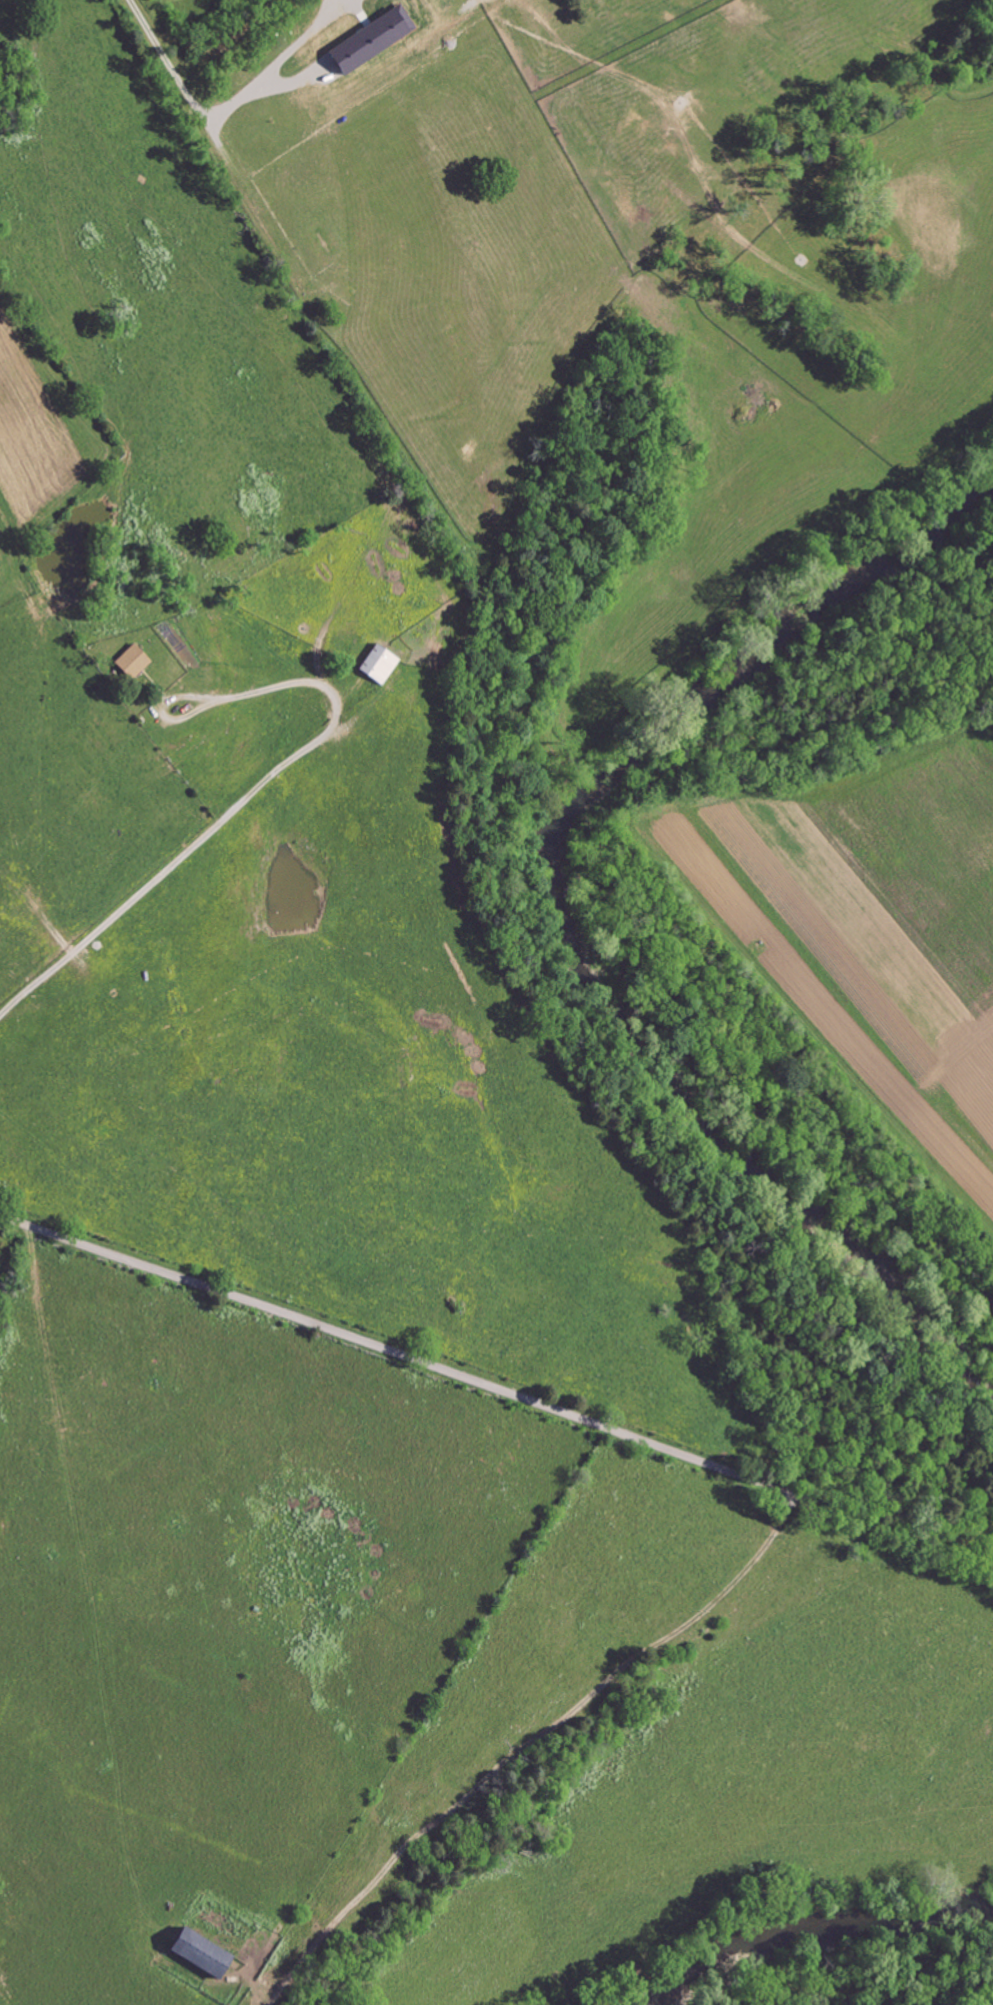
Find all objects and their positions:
building: (371, 40)
road: (190, 93)
building: (131, 663)
building: (378, 666)
road: (236, 808)
river: (564, 906)
road: (411, 1358)
road: (534, 1741)
river: (802, 1934)
building: (198, 1953)

